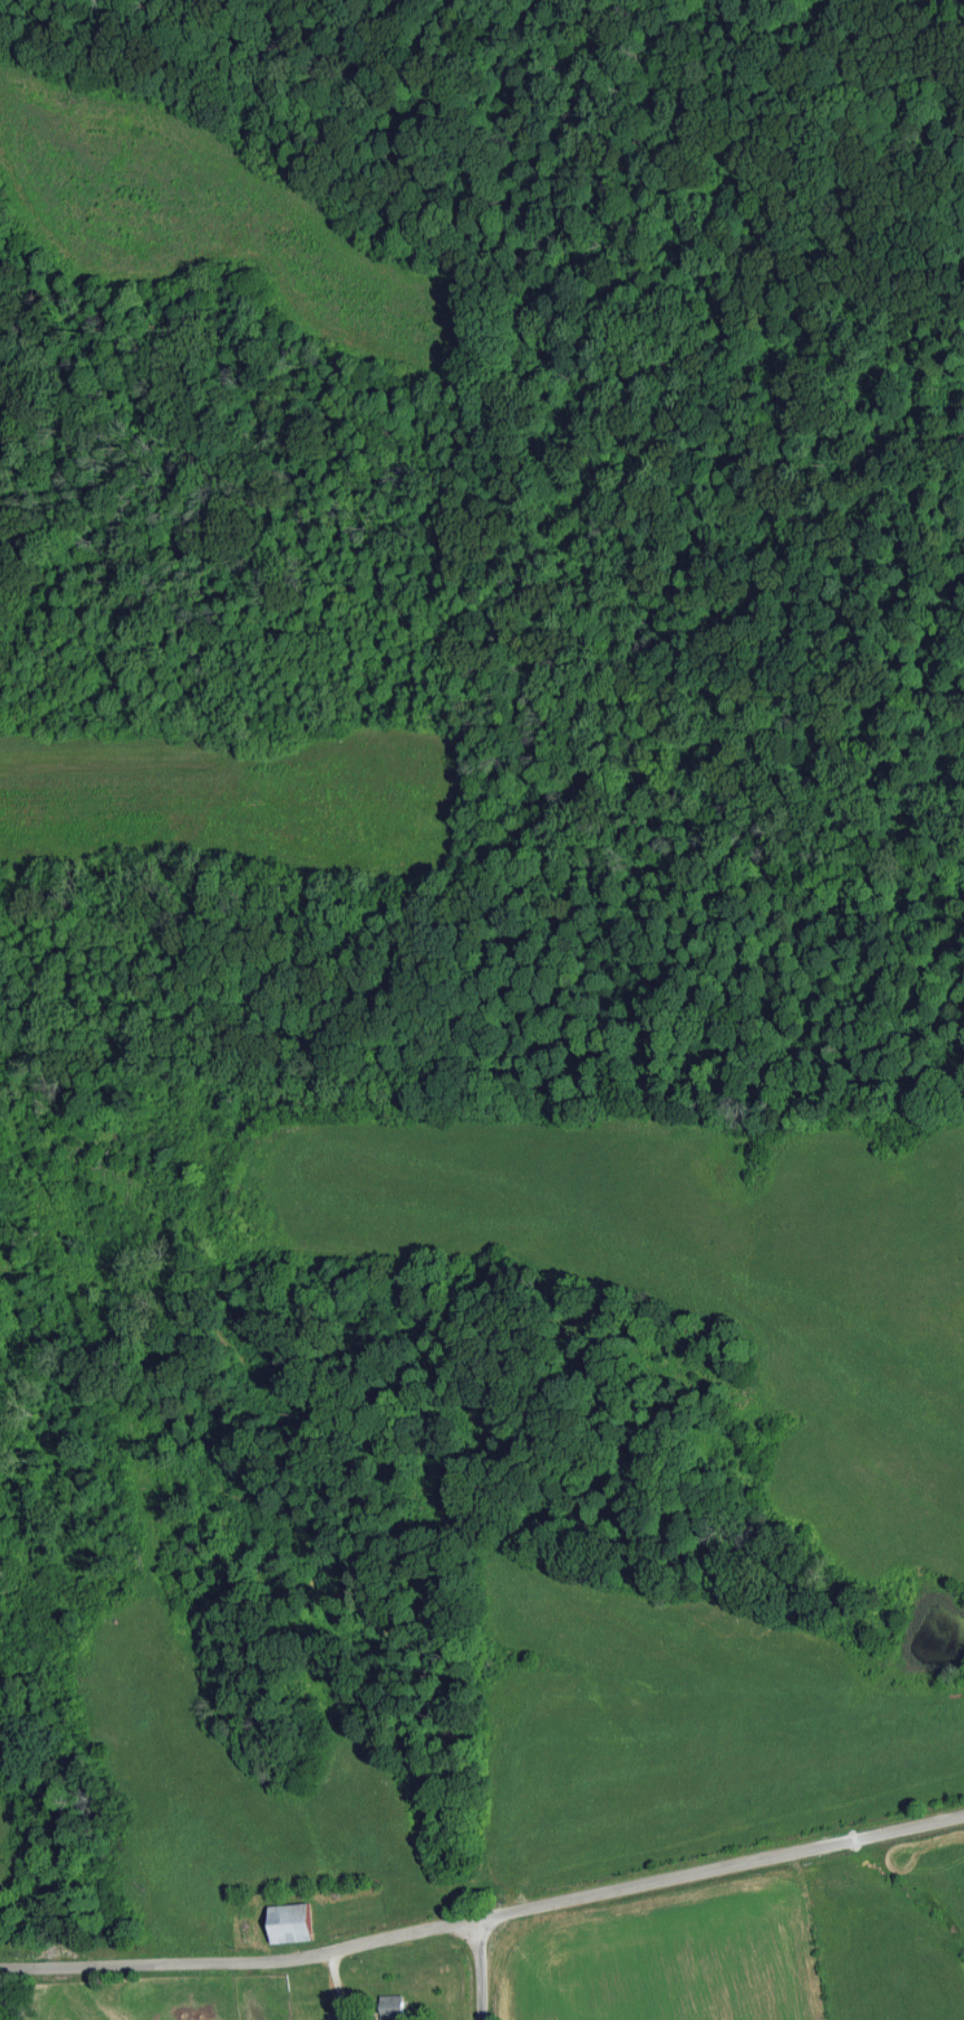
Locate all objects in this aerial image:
road: (484, 1915)
building: (288, 1923)
road: (483, 1968)
building: (391, 2007)

